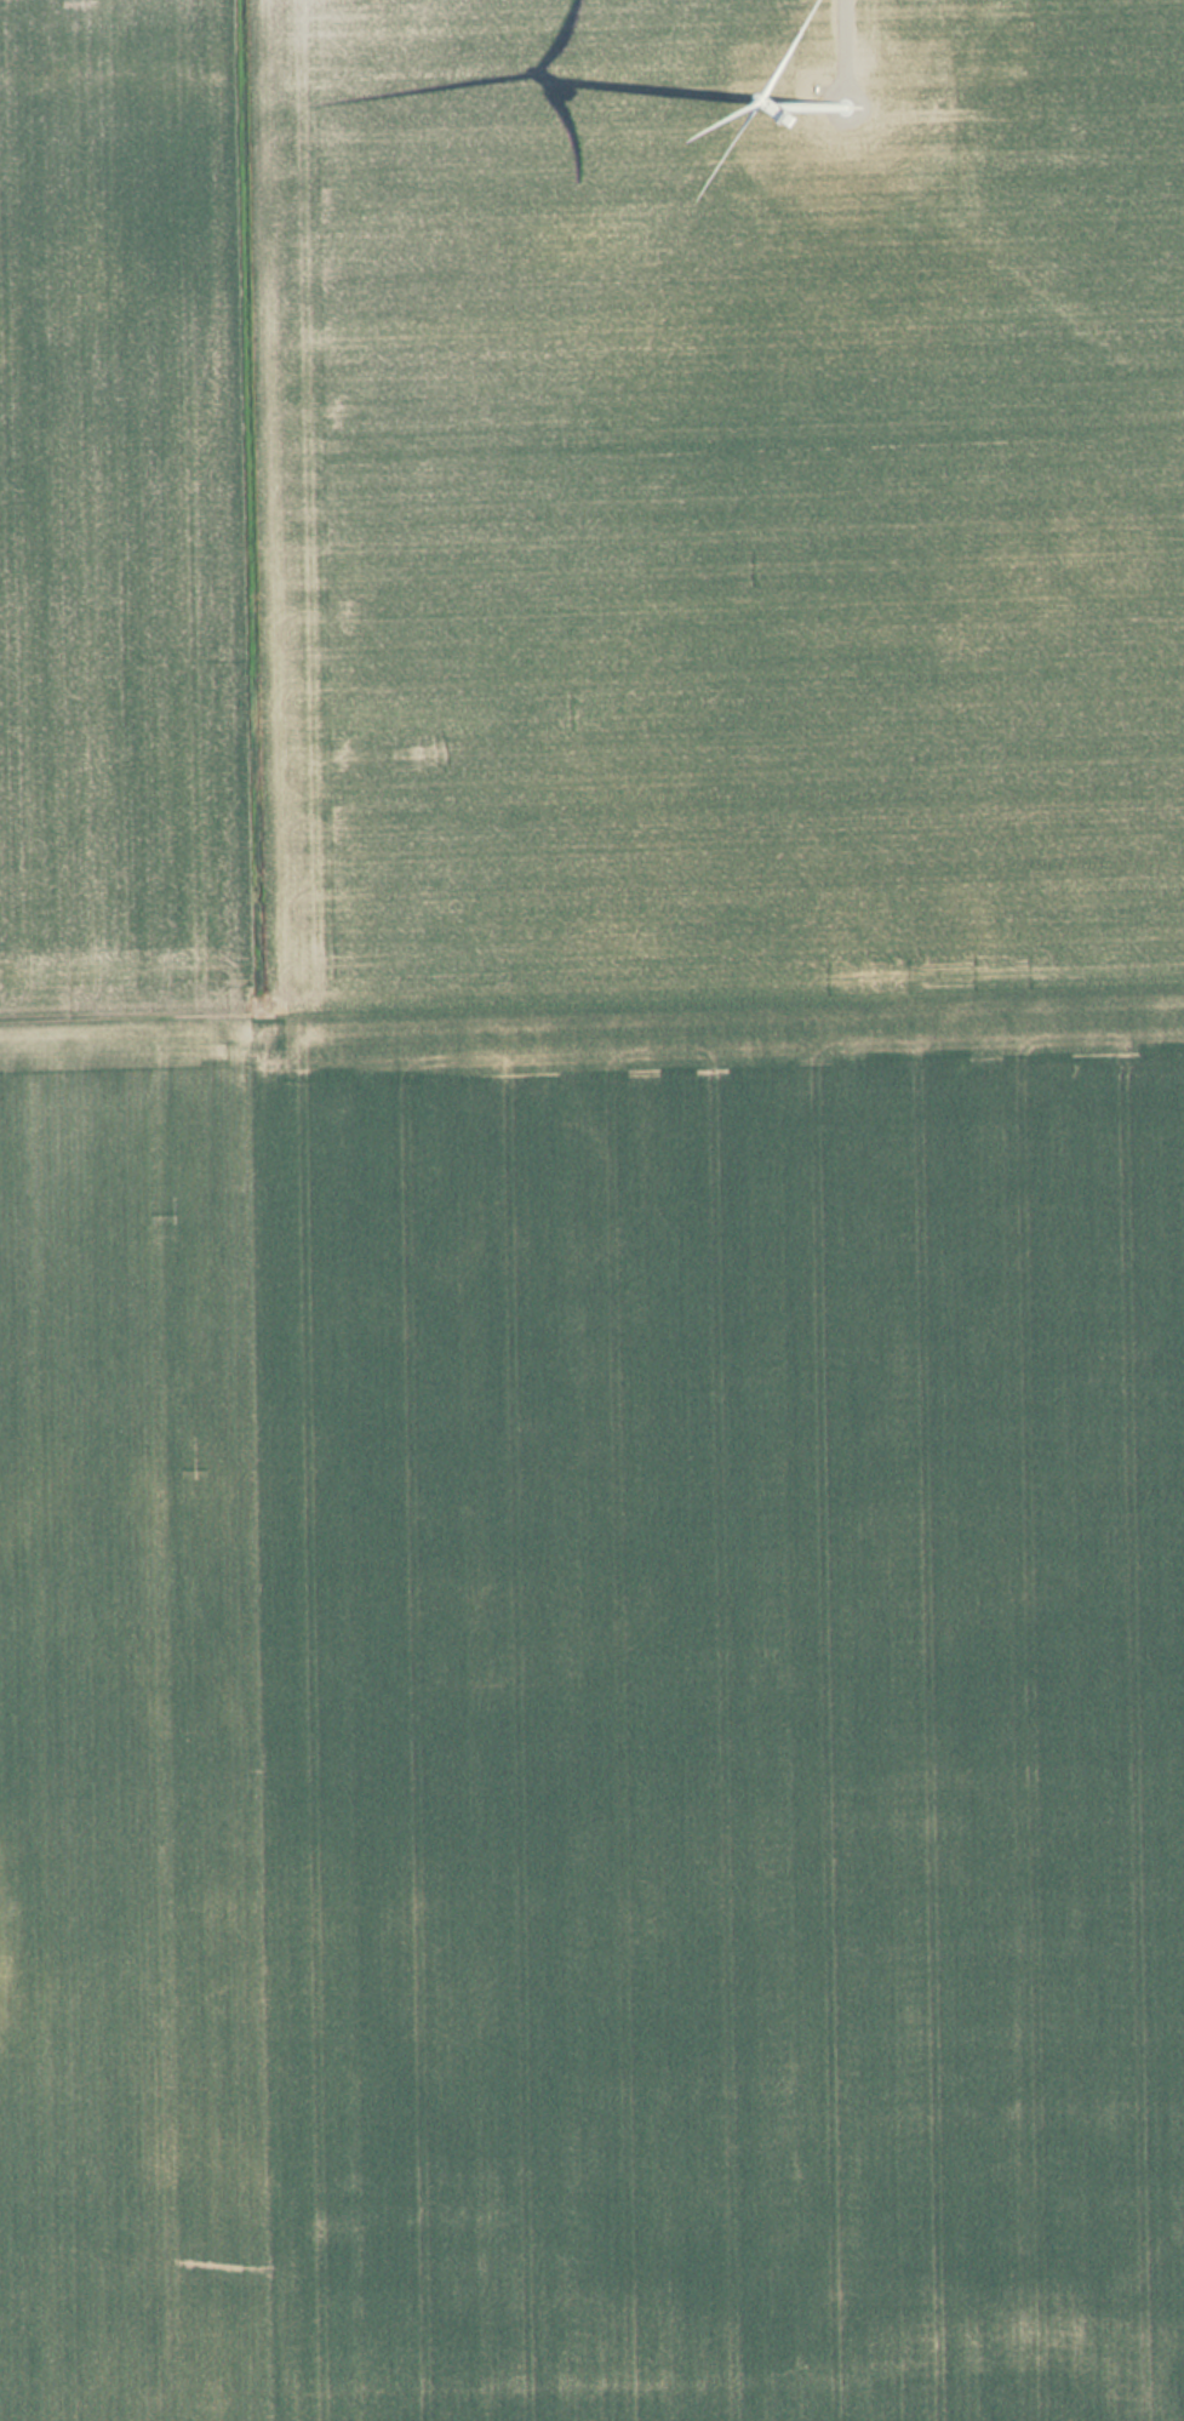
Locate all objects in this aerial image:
wind turbine: (845, 99)

